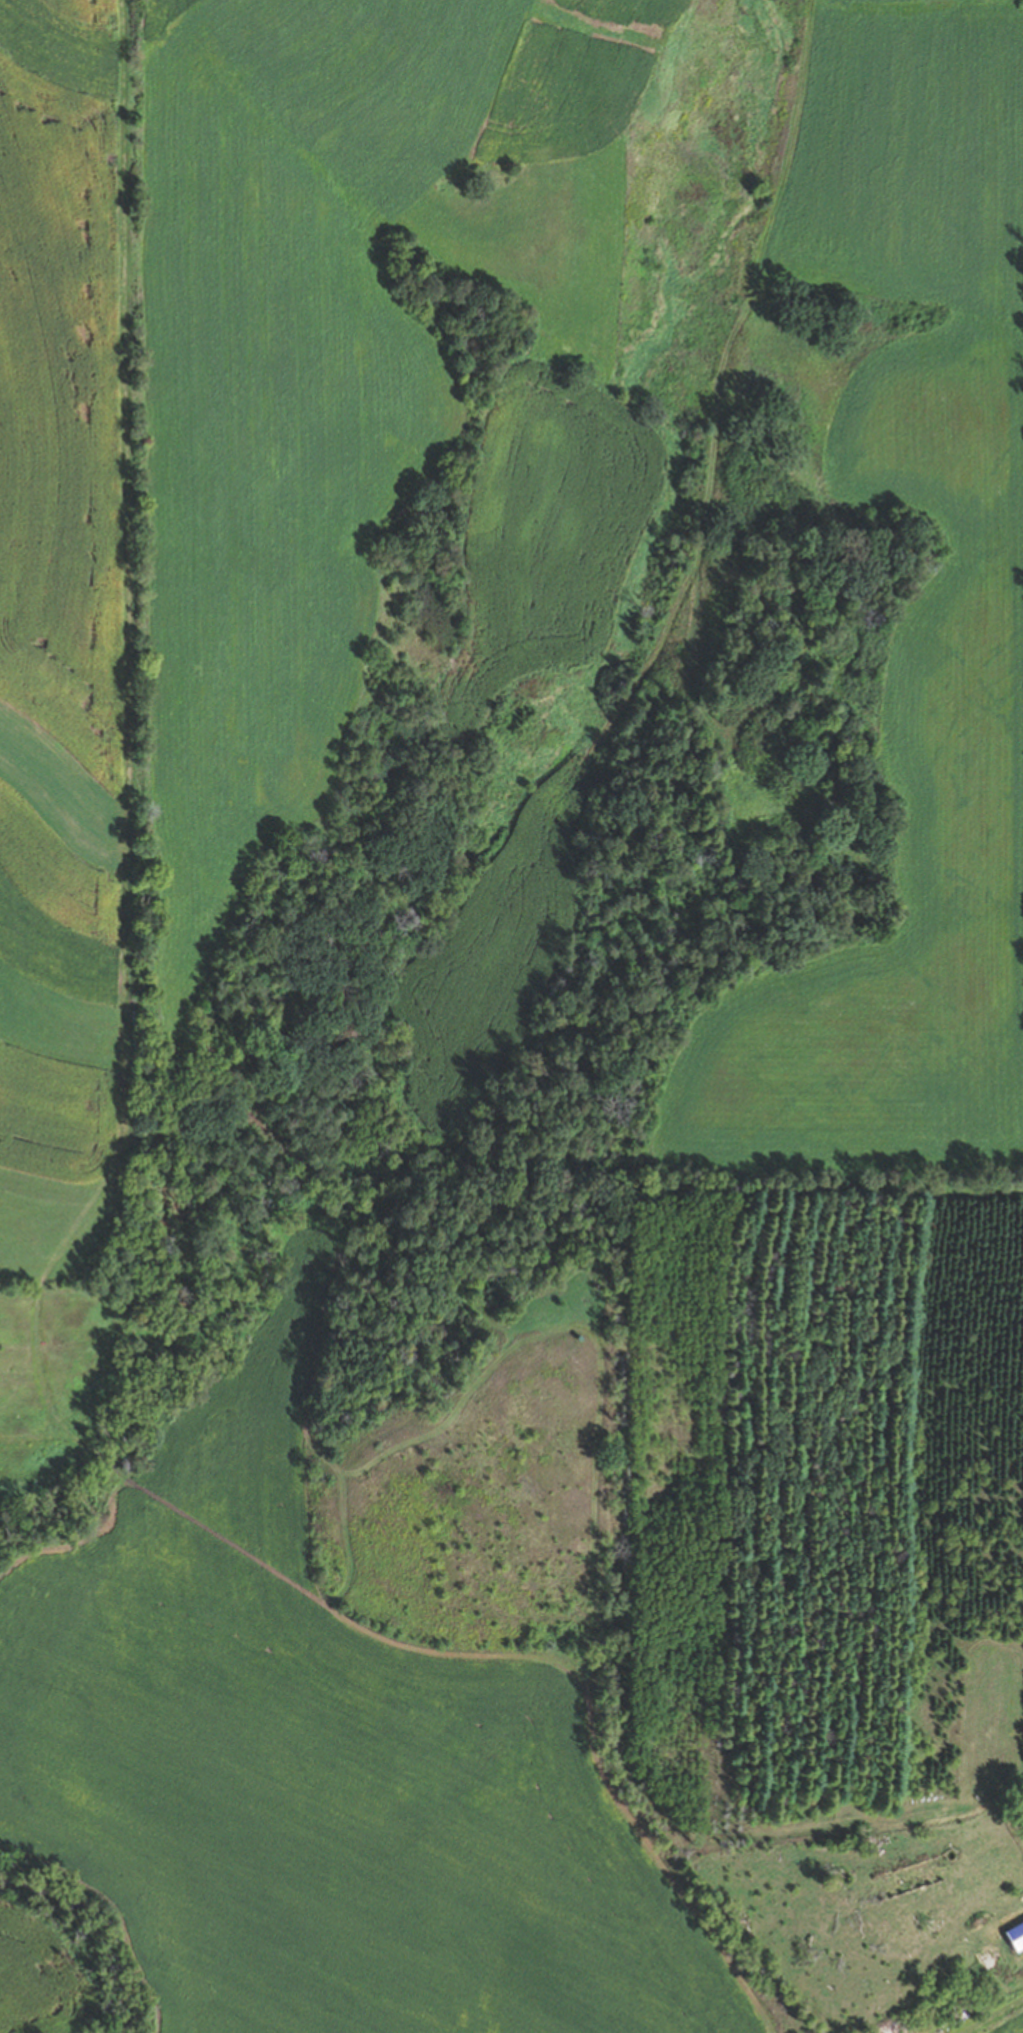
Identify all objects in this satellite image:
road: (85, 1445)
building: (1000, 1951)

